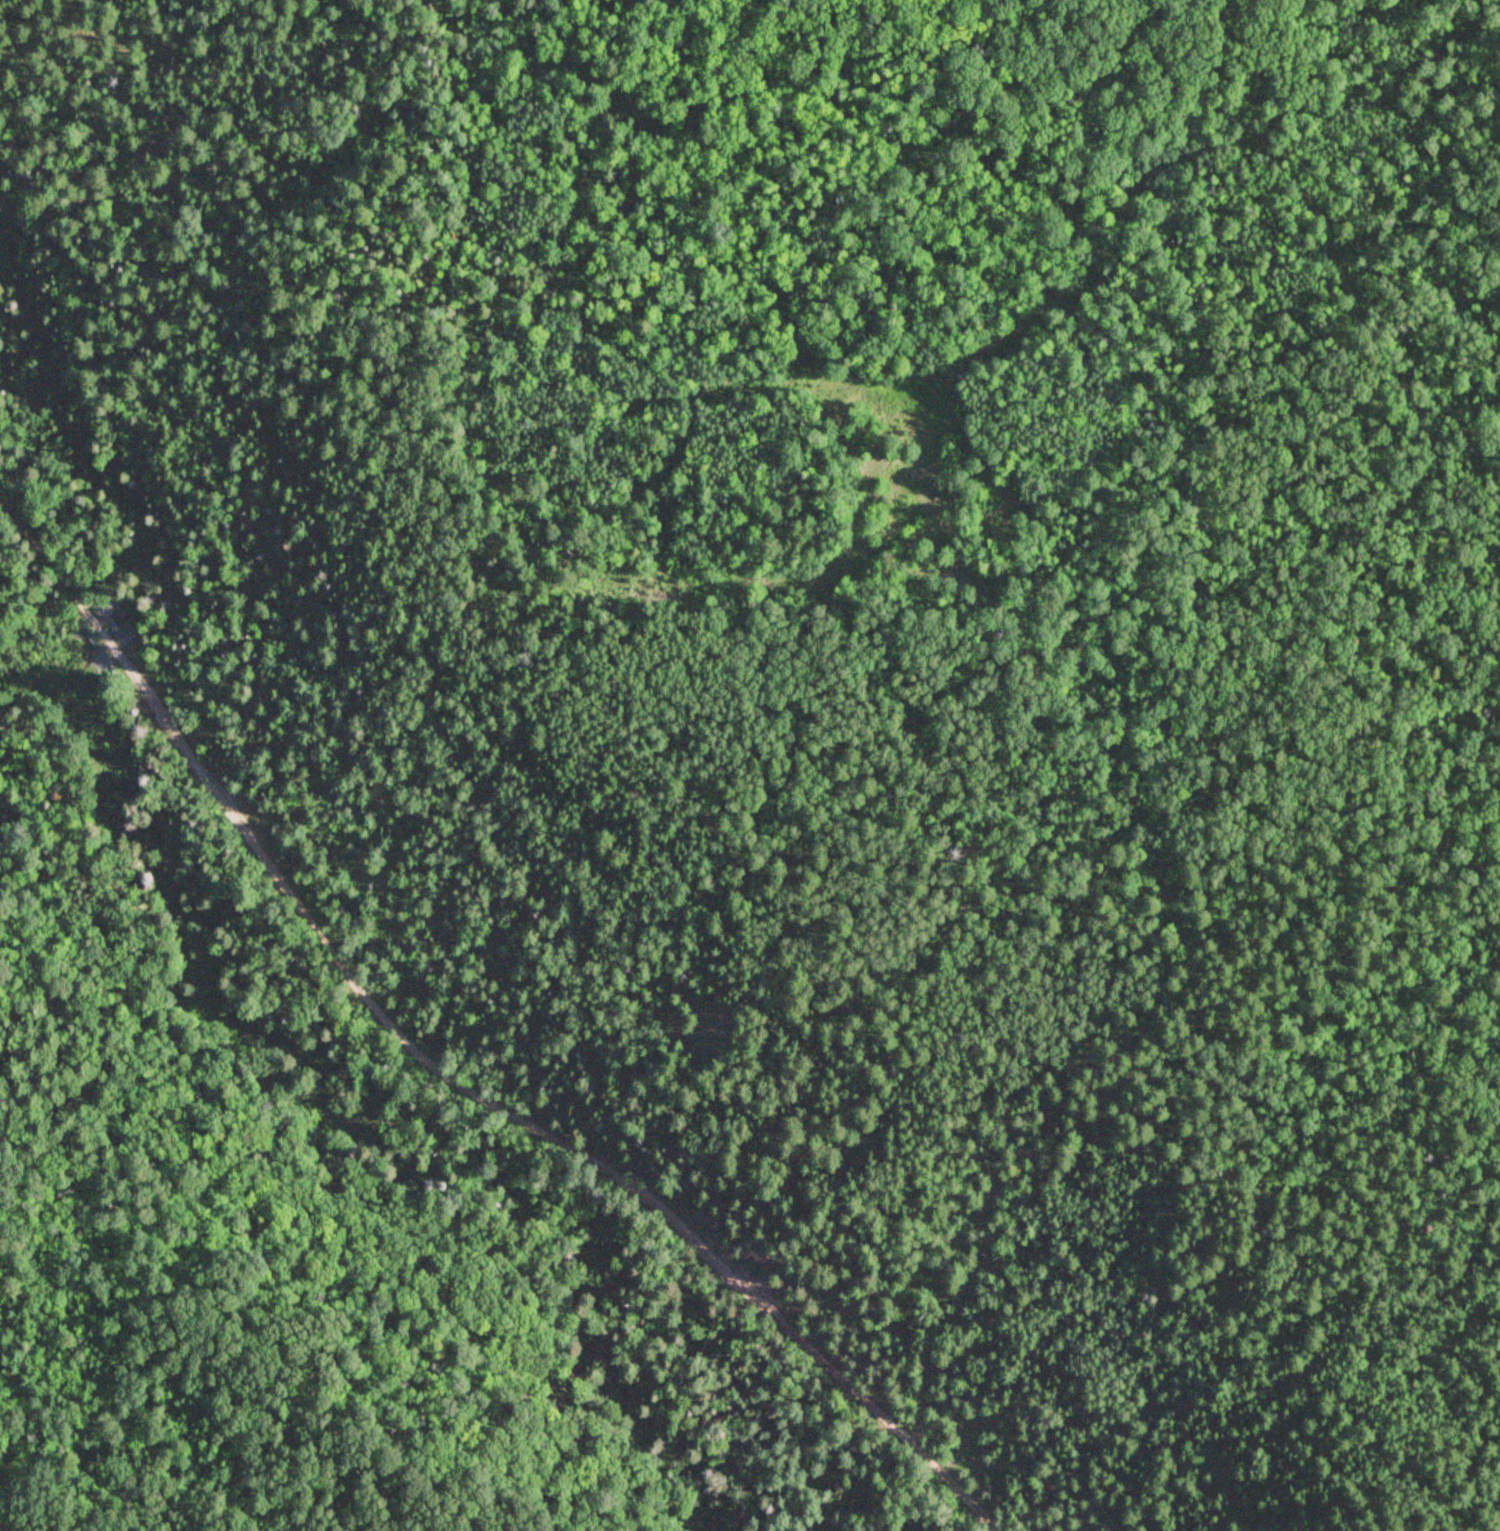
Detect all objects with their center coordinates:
road: (1359, 226)
road: (457, 1052)

